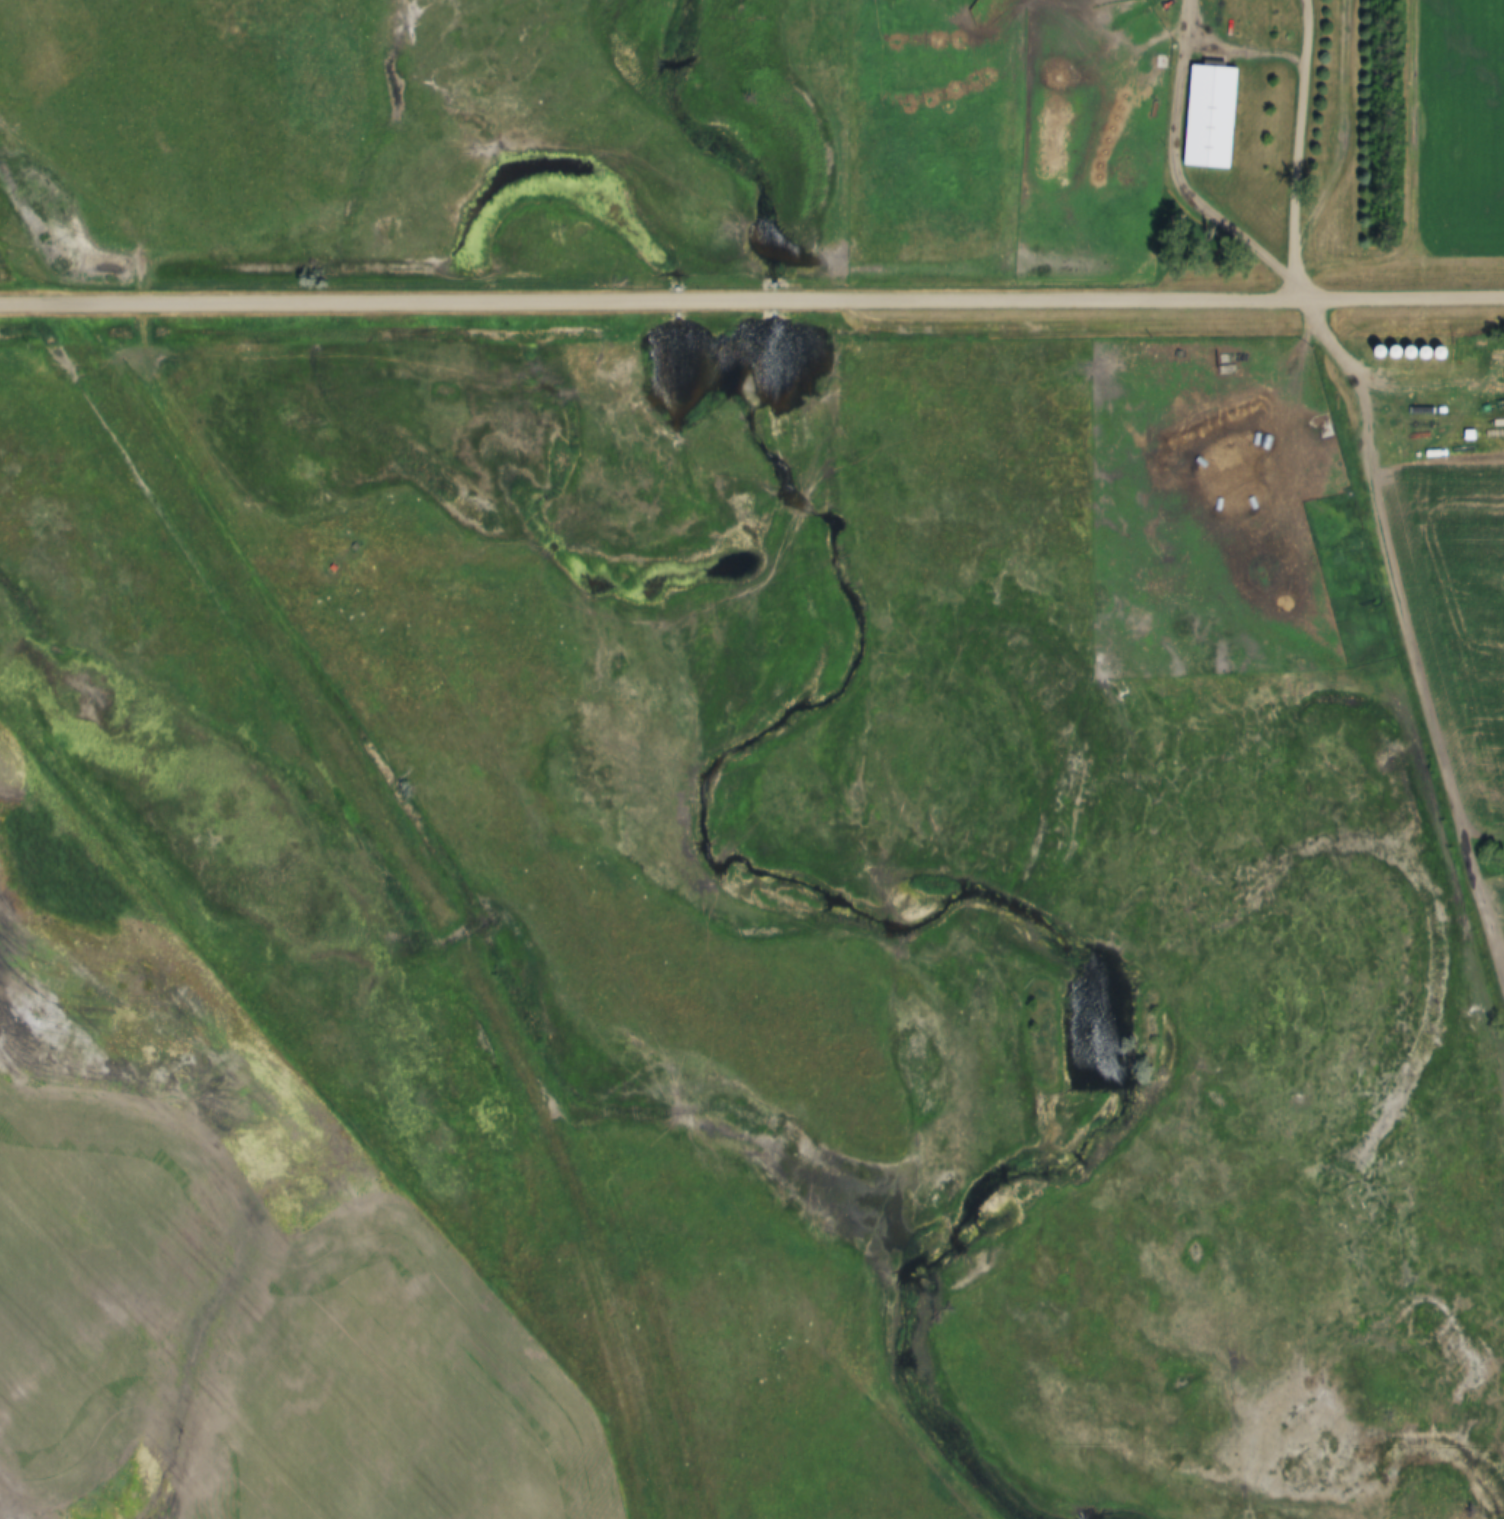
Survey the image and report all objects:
building: (1213, 117)
road: (1304, 125)
road: (1332, 126)
road: (1180, 165)
road: (1300, 272)
road: (751, 298)
road: (1329, 345)
building: (1327, 566)
road: (1423, 683)

